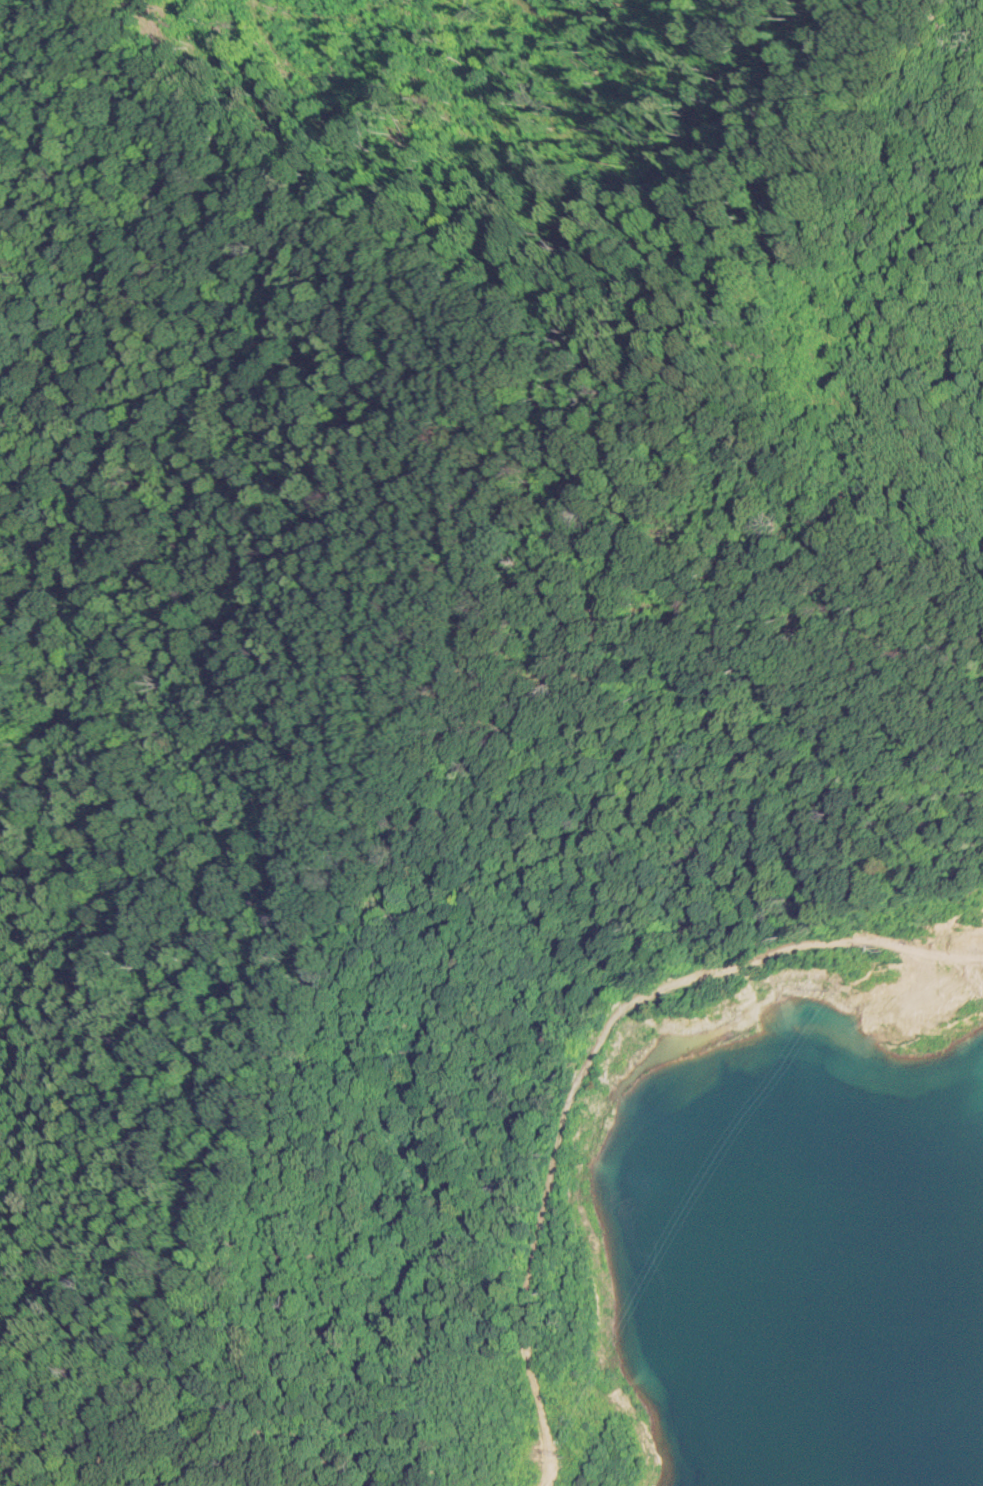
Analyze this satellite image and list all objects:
quarry: (781, 1203)

